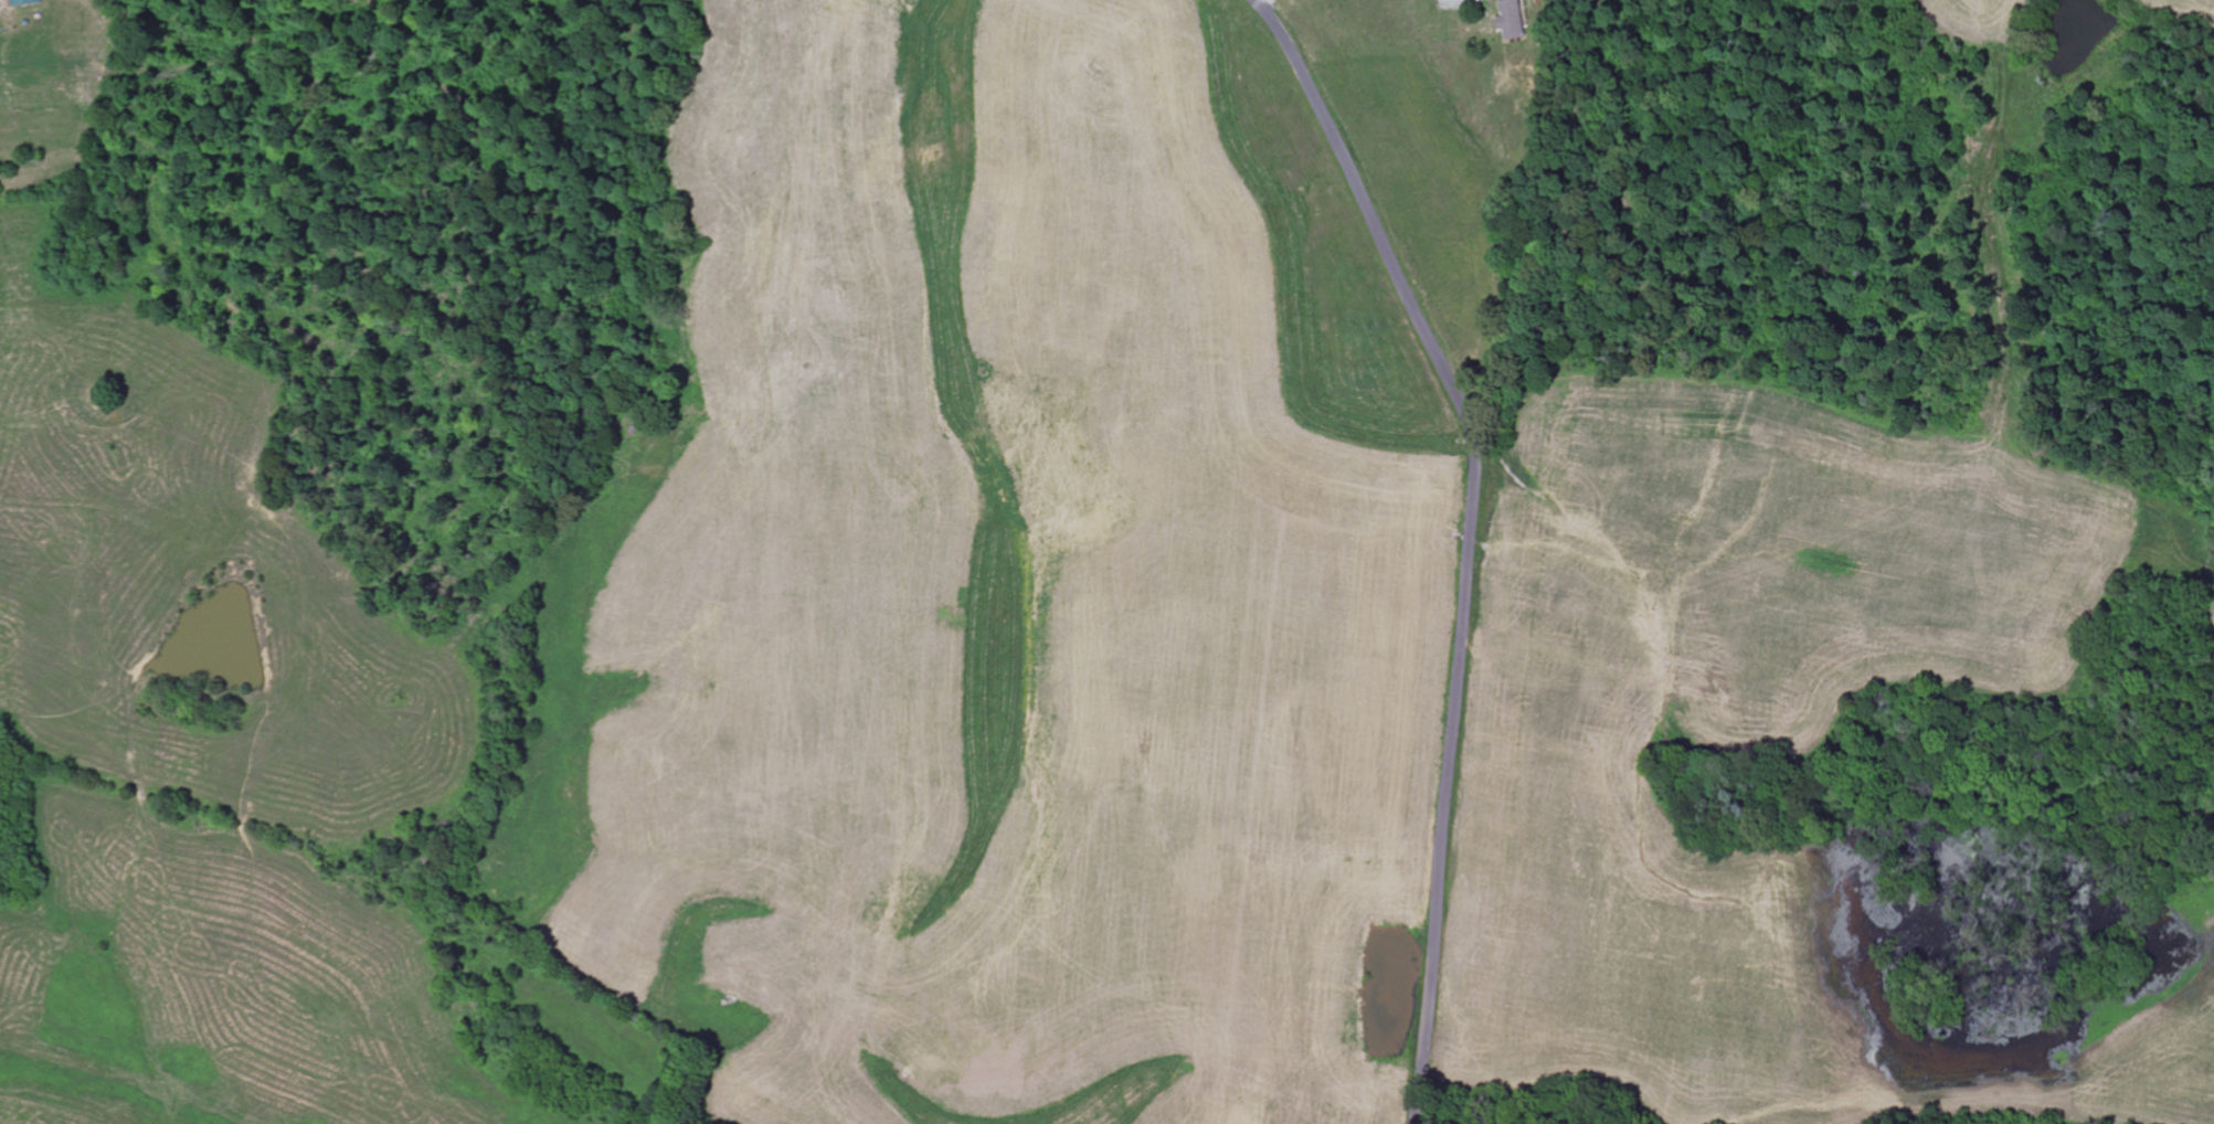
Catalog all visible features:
building: (29, 2)
building: (1515, 20)
road: (1470, 537)

